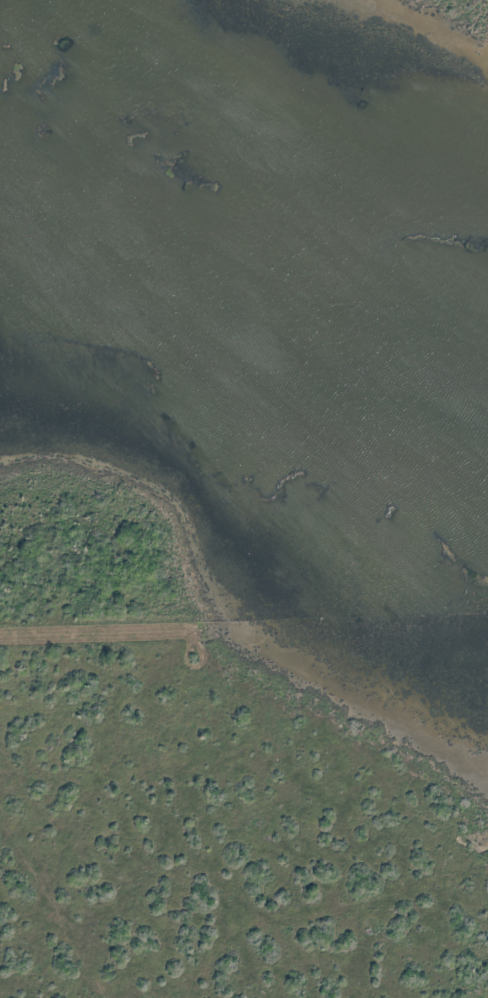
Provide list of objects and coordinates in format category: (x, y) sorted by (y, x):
road: (52, 882)

